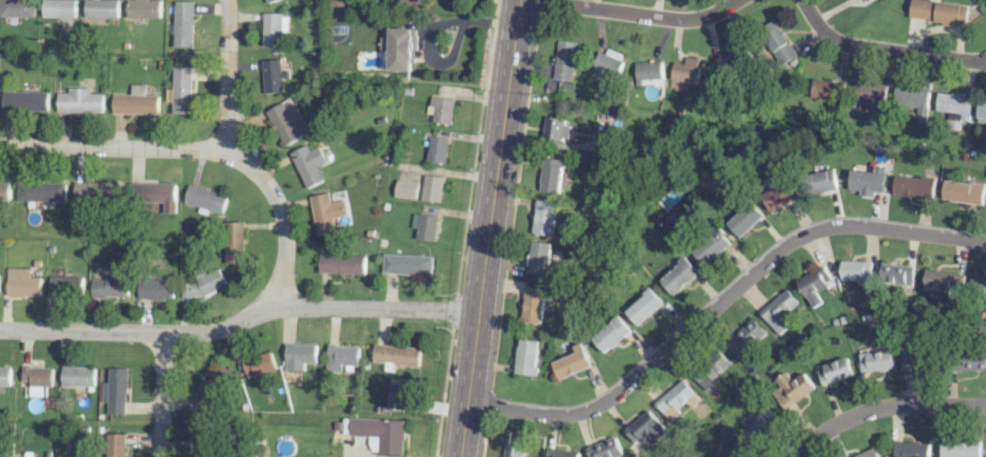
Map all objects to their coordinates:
building: (269, 1)
building: (412, 1)
building: (337, 2)
building: (16, 8)
building: (58, 8)
building: (100, 8)
building: (142, 9)
building: (941, 11)
road: (637, 14)
building: (182, 24)
building: (273, 28)
road: (433, 31)
building: (777, 44)
building: (398, 49)
road: (884, 49)
building: (564, 61)
building: (731, 62)
building: (608, 63)
building: (686, 70)
building: (648, 73)
building: (272, 75)
building: (824, 89)
building: (181, 90)
building: (870, 94)
building: (914, 100)
building: (23, 101)
building: (78, 101)
building: (134, 102)
building: (954, 103)
building: (441, 109)
building: (982, 111)
building: (287, 123)
building: (555, 128)
road: (115, 147)
building: (437, 149)
road: (240, 158)
building: (308, 164)
building: (551, 174)
building: (870, 178)
building: (822, 181)
building: (916, 186)
building: (432, 188)
building: (405, 189)
building: (40, 191)
building: (97, 191)
building: (964, 192)
building: (155, 194)
building: (781, 196)
building: (205, 199)
building: (323, 214)
building: (545, 217)
building: (747, 219)
building: (425, 226)
road: (487, 228)
building: (234, 242)
building: (712, 245)
building: (538, 257)
building: (342, 262)
building: (408, 264)
building: (856, 270)
building: (897, 274)
building: (679, 275)
building: (943, 282)
building: (21, 283)
building: (201, 283)
building: (815, 284)
building: (62, 285)
building: (978, 285)
building: (108, 287)
building: (156, 289)
road: (719, 303)
building: (533, 305)
building: (644, 305)
building: (779, 310)
road: (239, 322)
building: (611, 333)
building: (744, 337)
building: (396, 354)
building: (300, 355)
building: (526, 356)
building: (342, 357)
building: (910, 359)
building: (571, 361)
building: (875, 361)
building: (260, 364)
building: (971, 364)
building: (710, 369)
building: (834, 371)
building: (5, 375)
building: (77, 376)
building: (36, 379)
building: (212, 386)
building: (792, 389)
building: (115, 391)
road: (160, 394)
building: (401, 395)
building: (674, 398)
road: (882, 407)
building: (761, 422)
building: (644, 427)
building: (377, 433)
building: (115, 445)
building: (958, 448)
building: (605, 449)
building: (910, 449)
building: (513, 450)
building: (734, 450)
building: (561, 453)
building: (866, 453)
building: (28, 454)
building: (71, 456)

